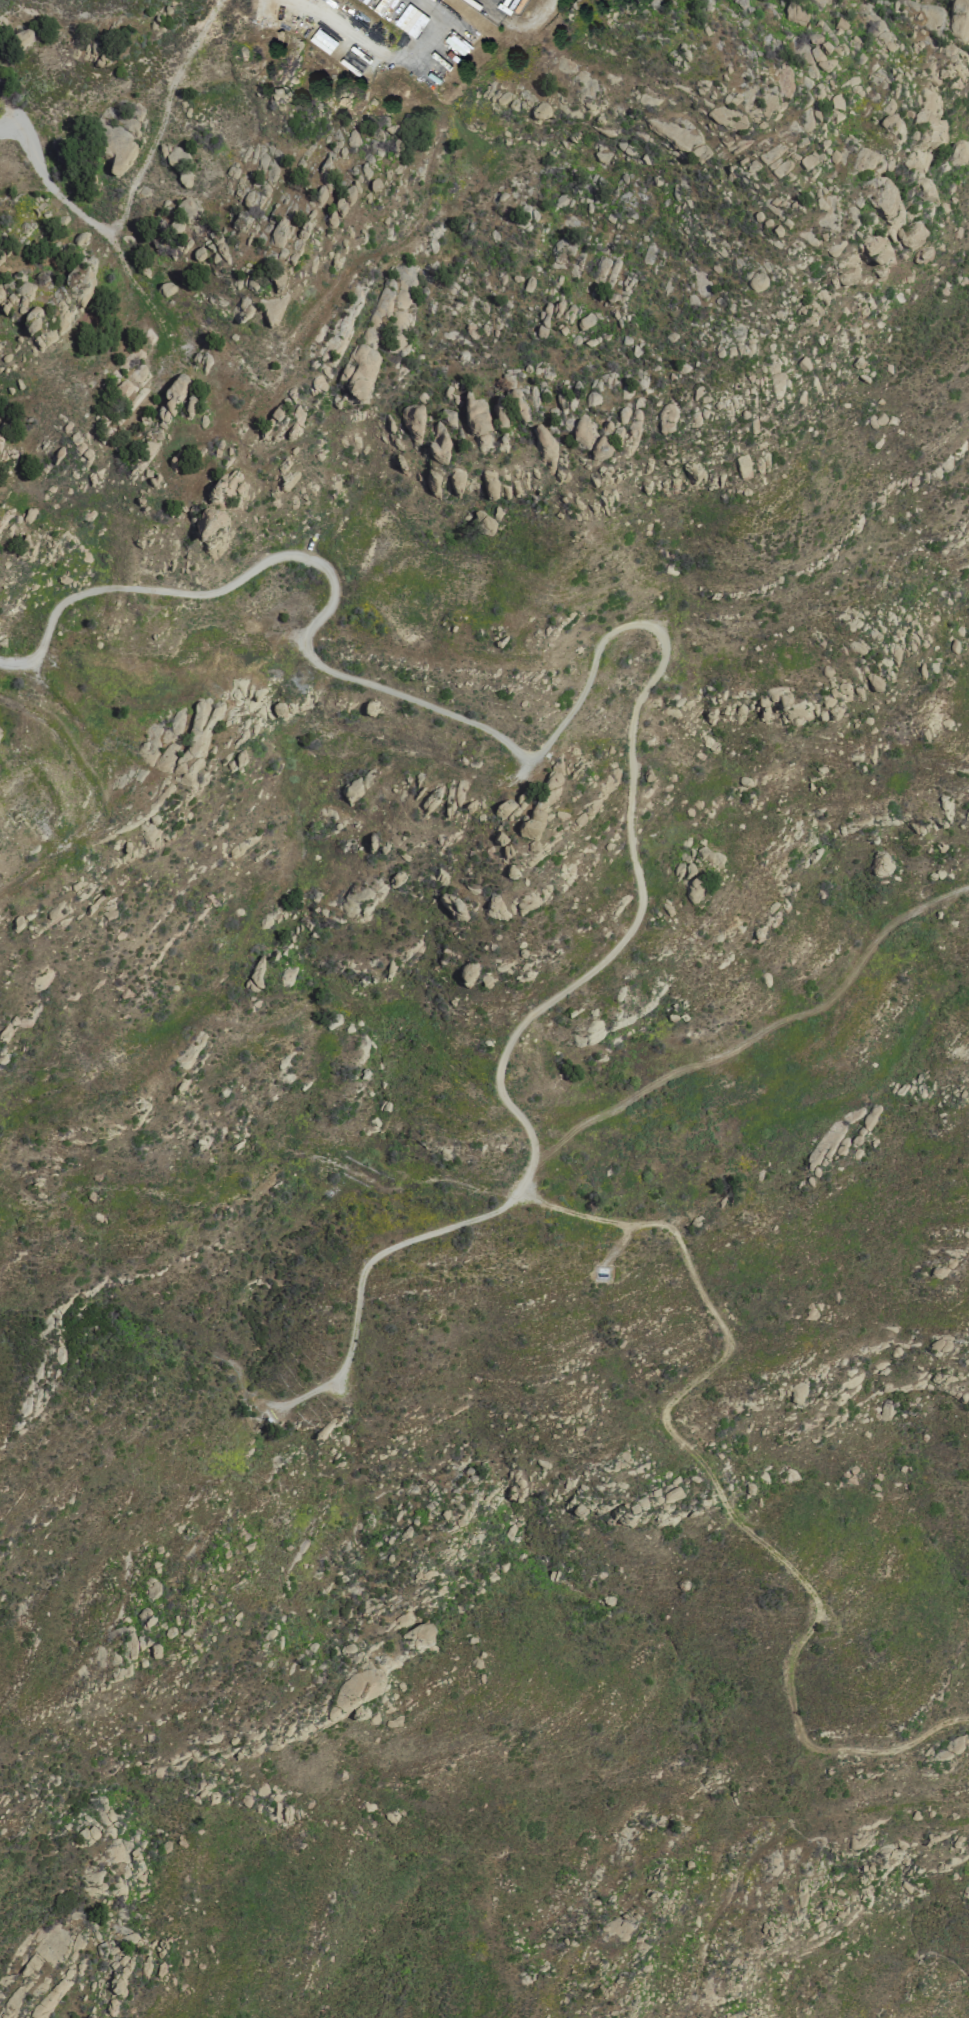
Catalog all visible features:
building: (819, 2)
building: (409, 20)
building: (321, 40)
road: (384, 53)
building: (276, 95)
building: (834, 108)
building: (540, 113)
building: (925, 119)
building: (889, 124)
building: (959, 152)
building: (701, 153)
building: (808, 161)
road: (133, 187)
building: (882, 197)
building: (187, 210)
building: (911, 240)
building: (605, 271)
building: (21, 295)
building: (177, 388)
building: (412, 422)
building: (583, 433)
building: (439, 443)
building: (483, 521)
road: (87, 778)
building: (532, 831)
building: (503, 846)
building: (711, 858)
building: (880, 867)
building: (671, 1495)
building: (425, 1632)
building: (952, 1747)

